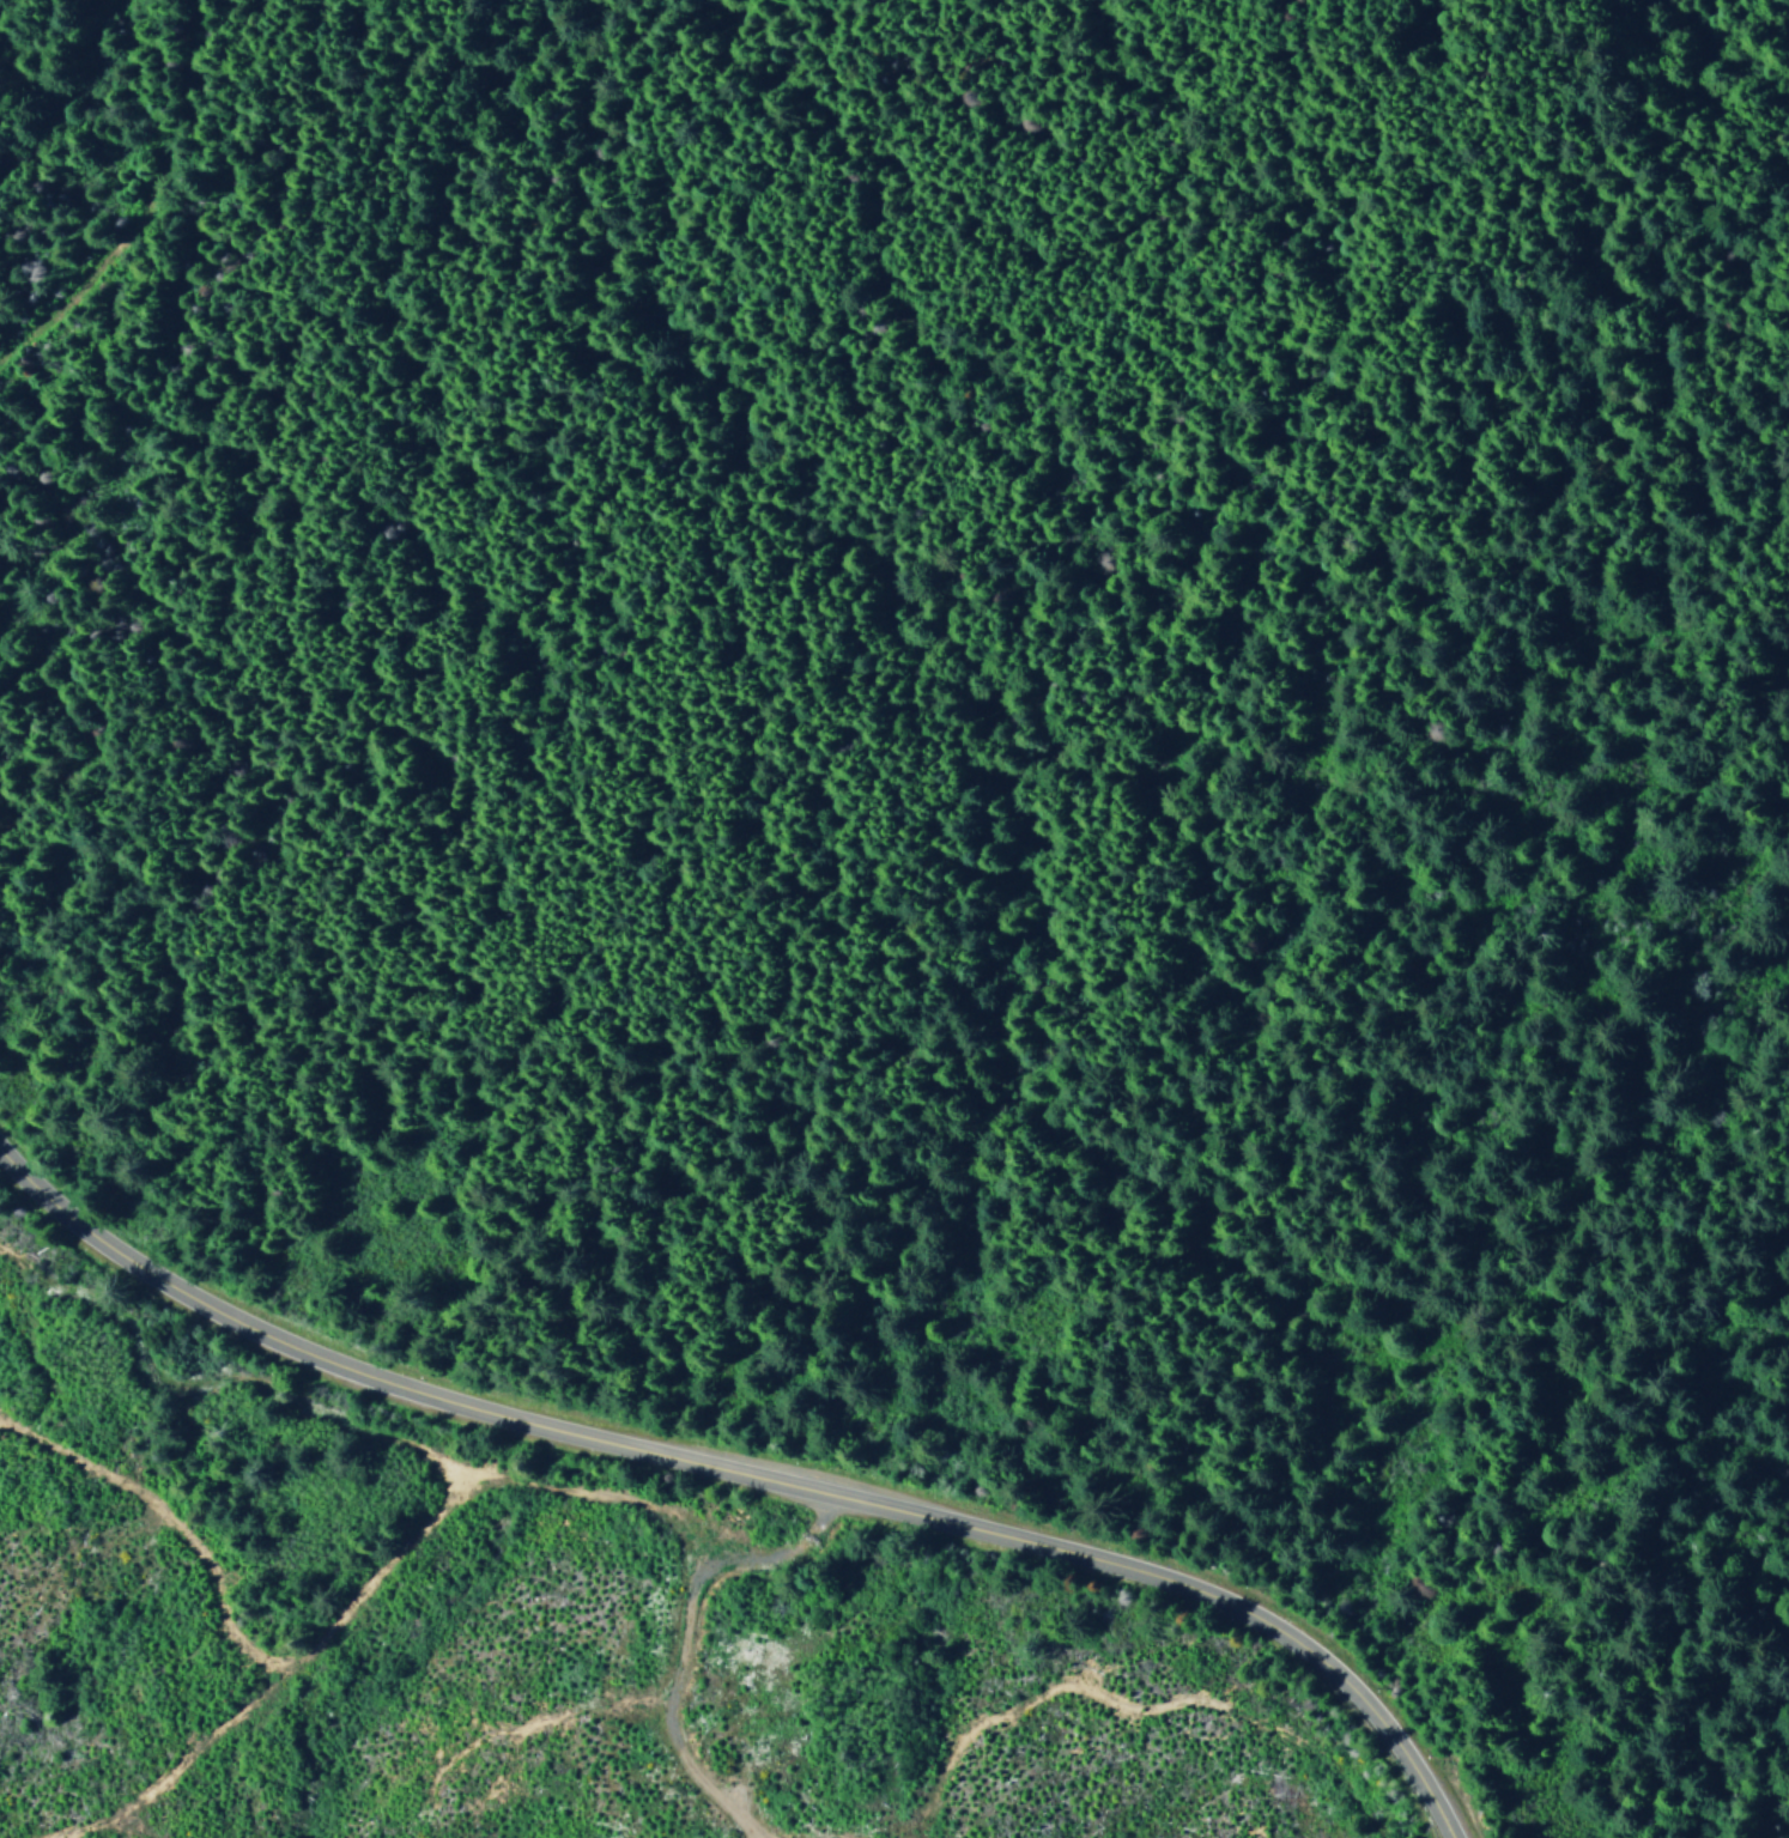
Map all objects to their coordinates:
road: (1467, 909)
road: (750, 1479)

